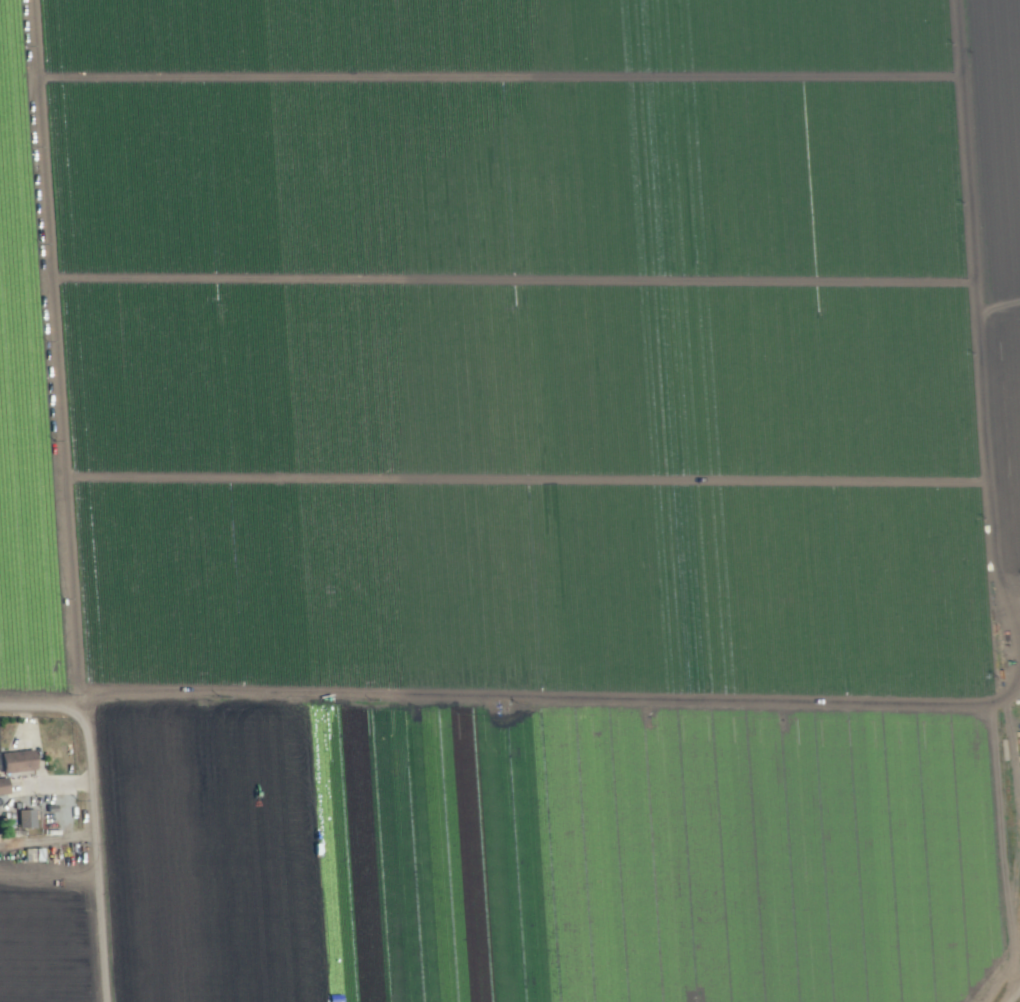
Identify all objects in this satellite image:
road: (58, 354)
crop: (509, 500)
road: (509, 696)
building: (16, 760)
road: (1016, 815)
building: (24, 818)
road: (1001, 841)
road: (94, 854)
road: (1016, 997)

